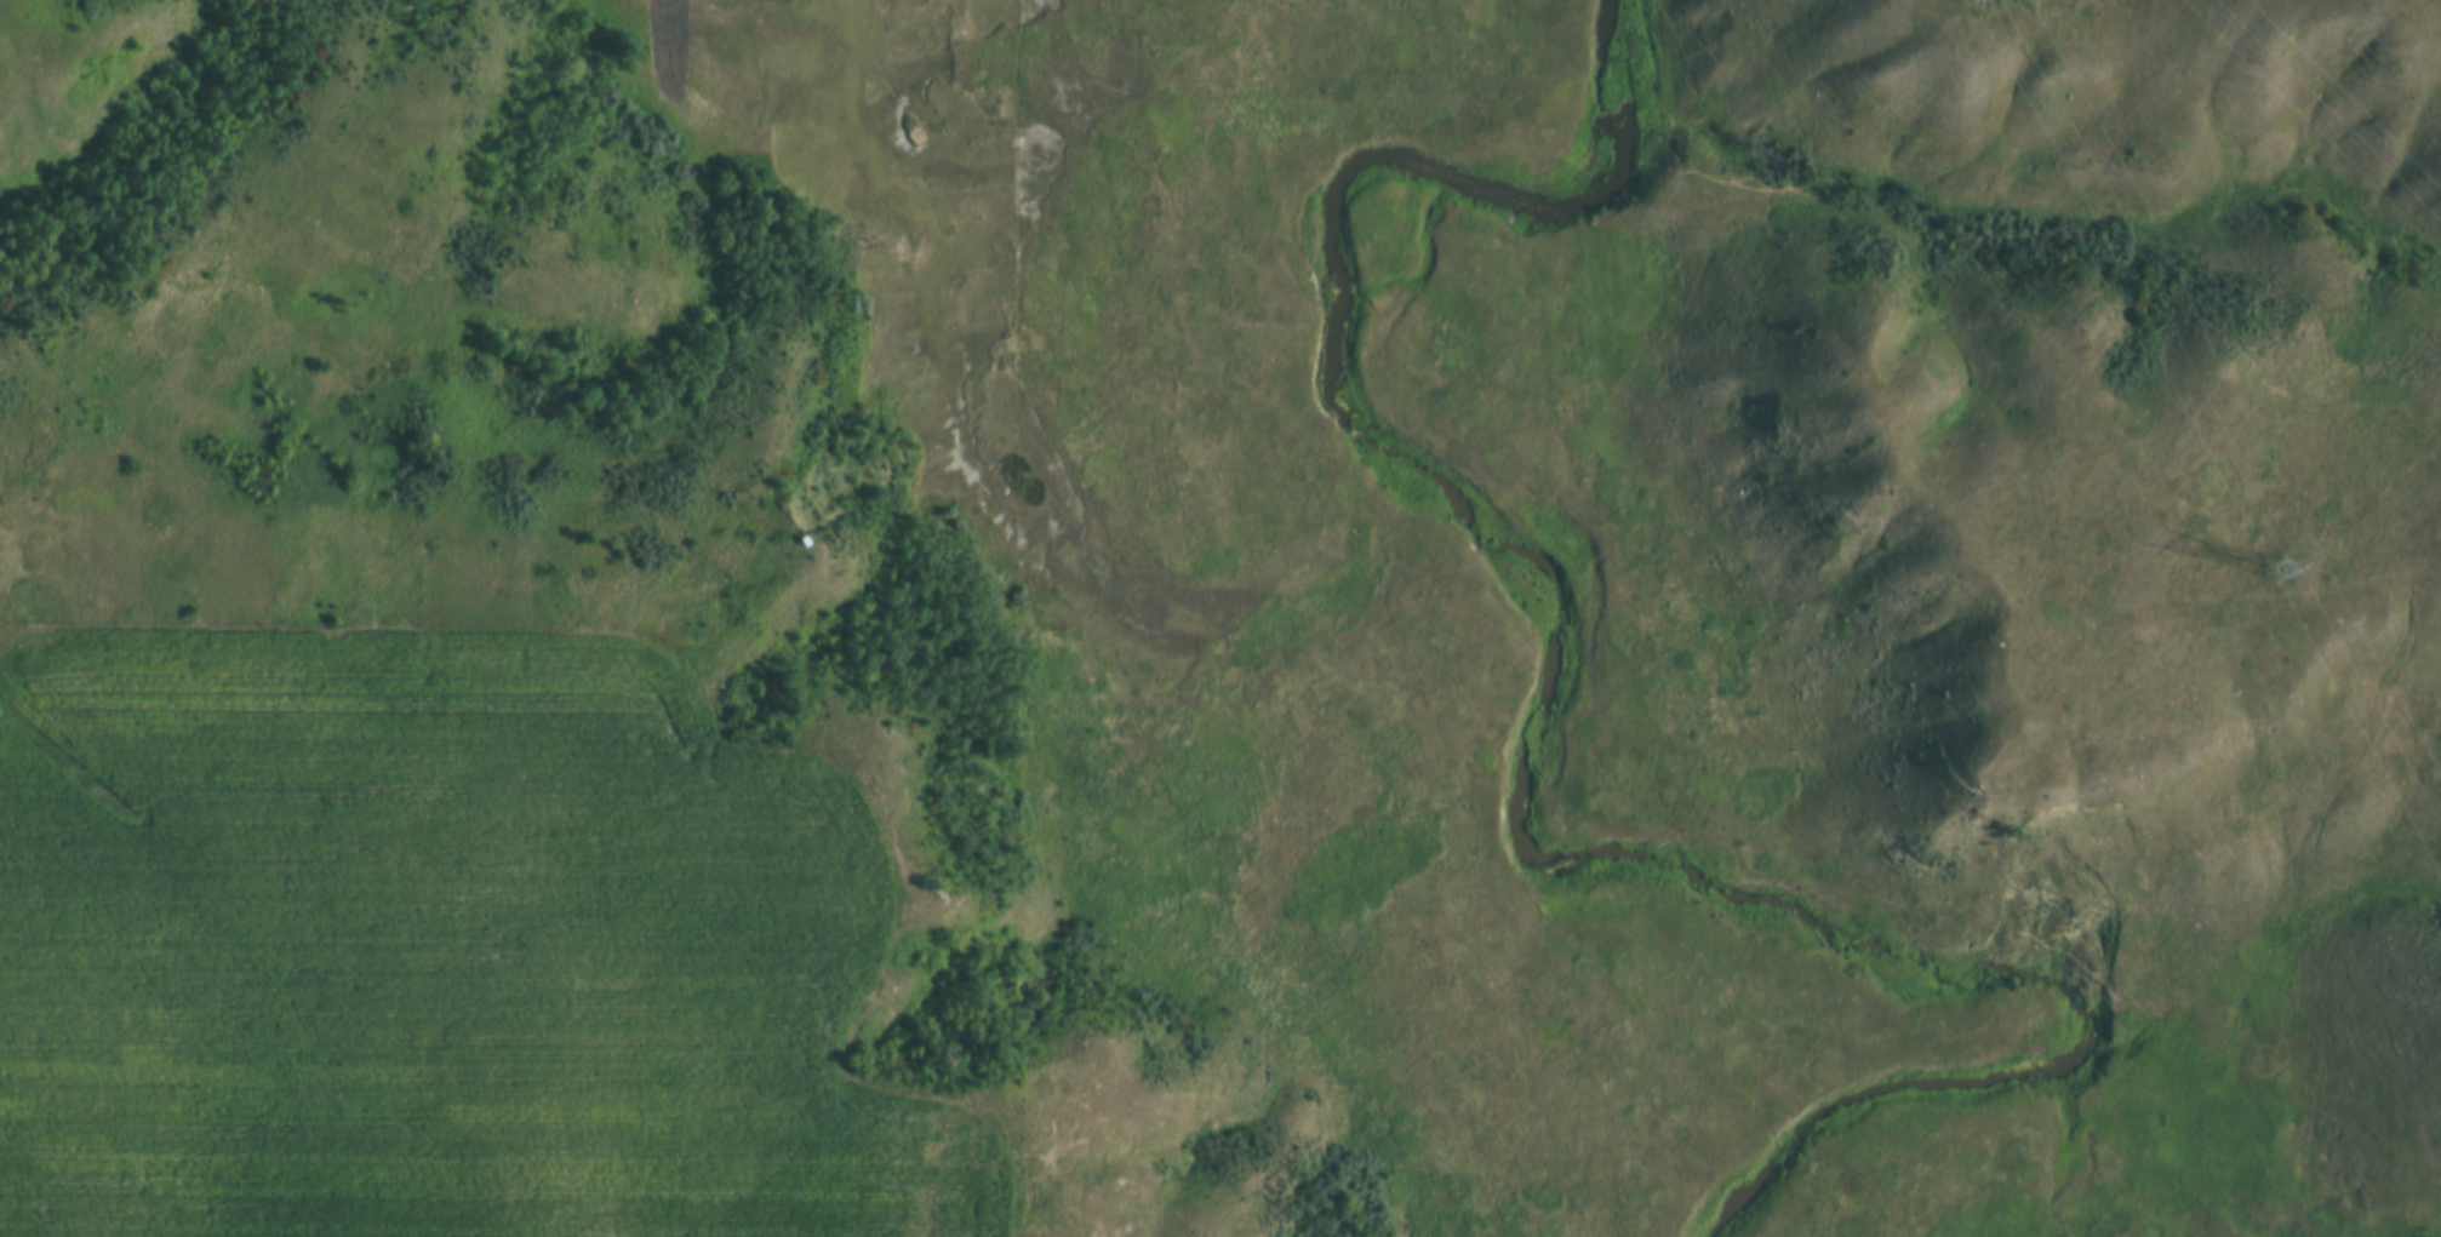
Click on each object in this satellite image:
power tower: (2258, 585)

